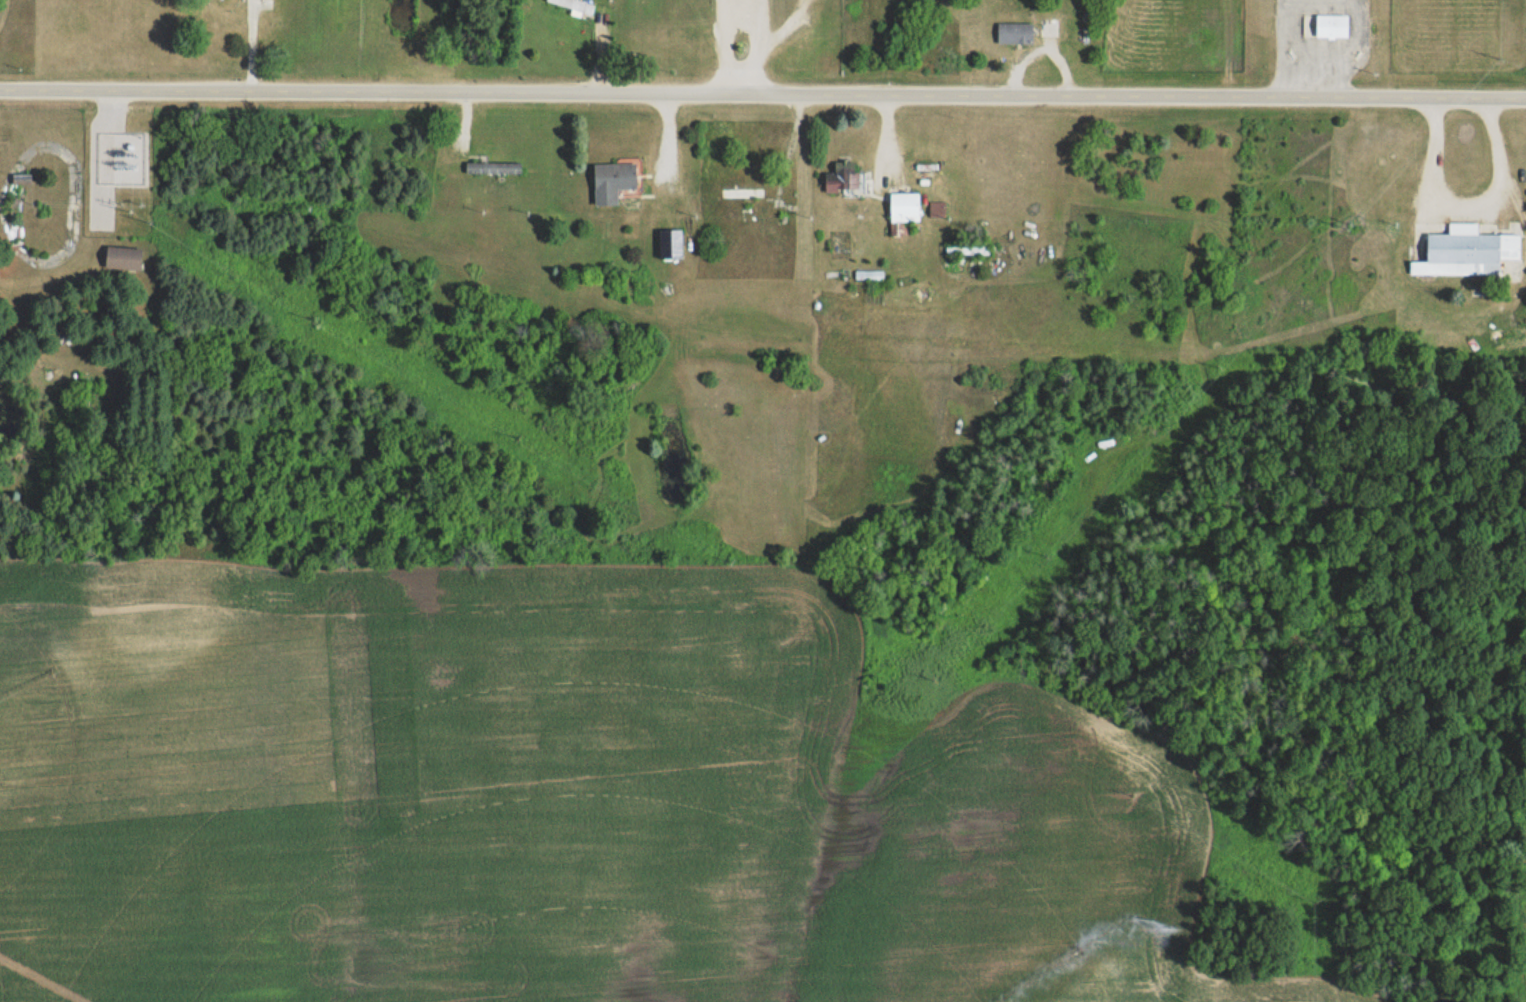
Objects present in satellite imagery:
building: (574, 4)
road: (739, 20)
building: (1332, 25)
building: (1049, 27)
building: (1015, 32)
road: (719, 46)
road: (760, 46)
road: (762, 93)
building: (493, 168)
building: (843, 176)
building: (613, 181)
road: (1471, 202)
building: (905, 207)
building: (671, 243)
building: (1467, 251)
building: (122, 258)

